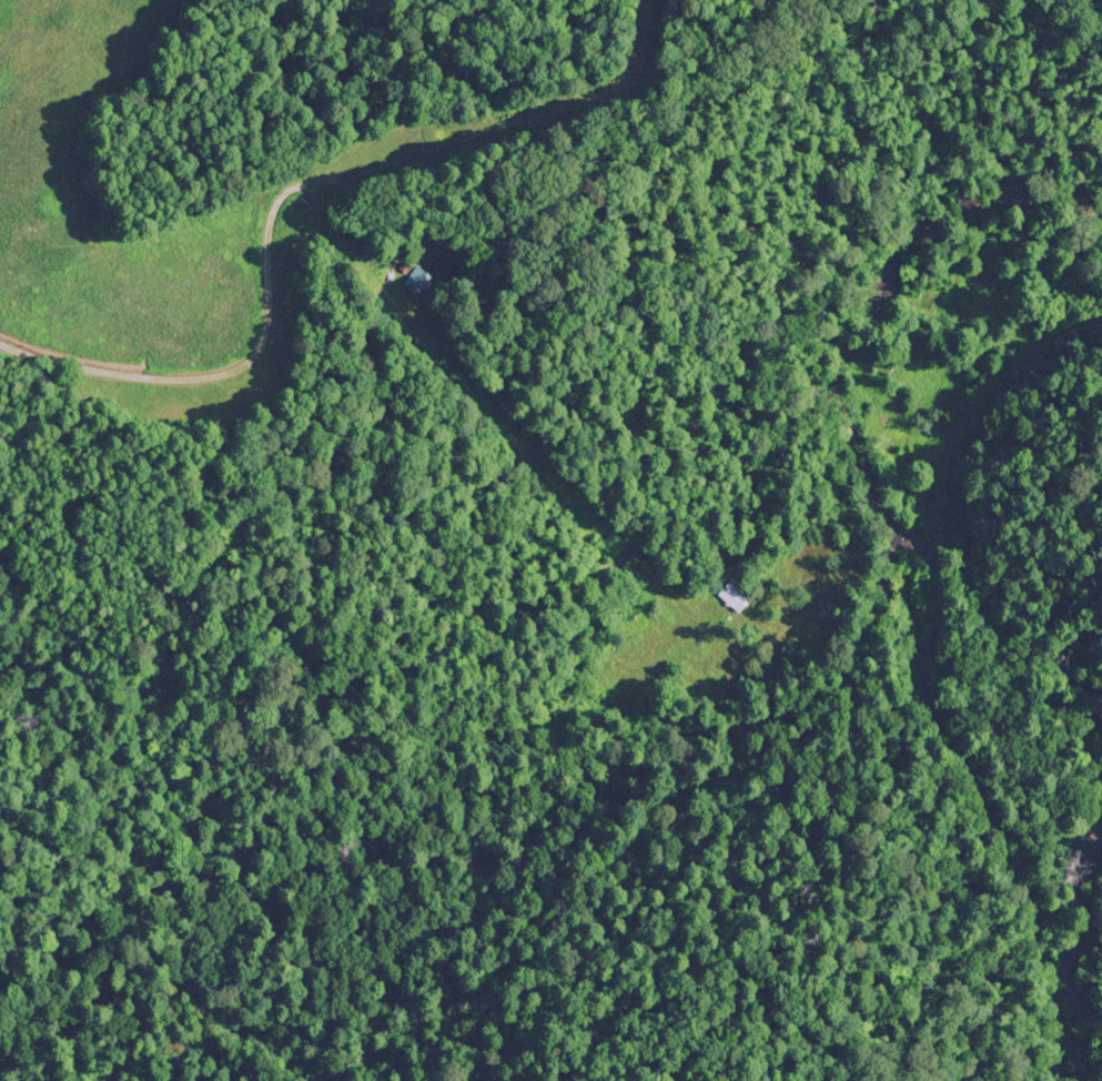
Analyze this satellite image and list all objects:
road: (429, 270)
railway: (982, 391)
railway: (907, 533)
building: (727, 598)
railway: (962, 819)

